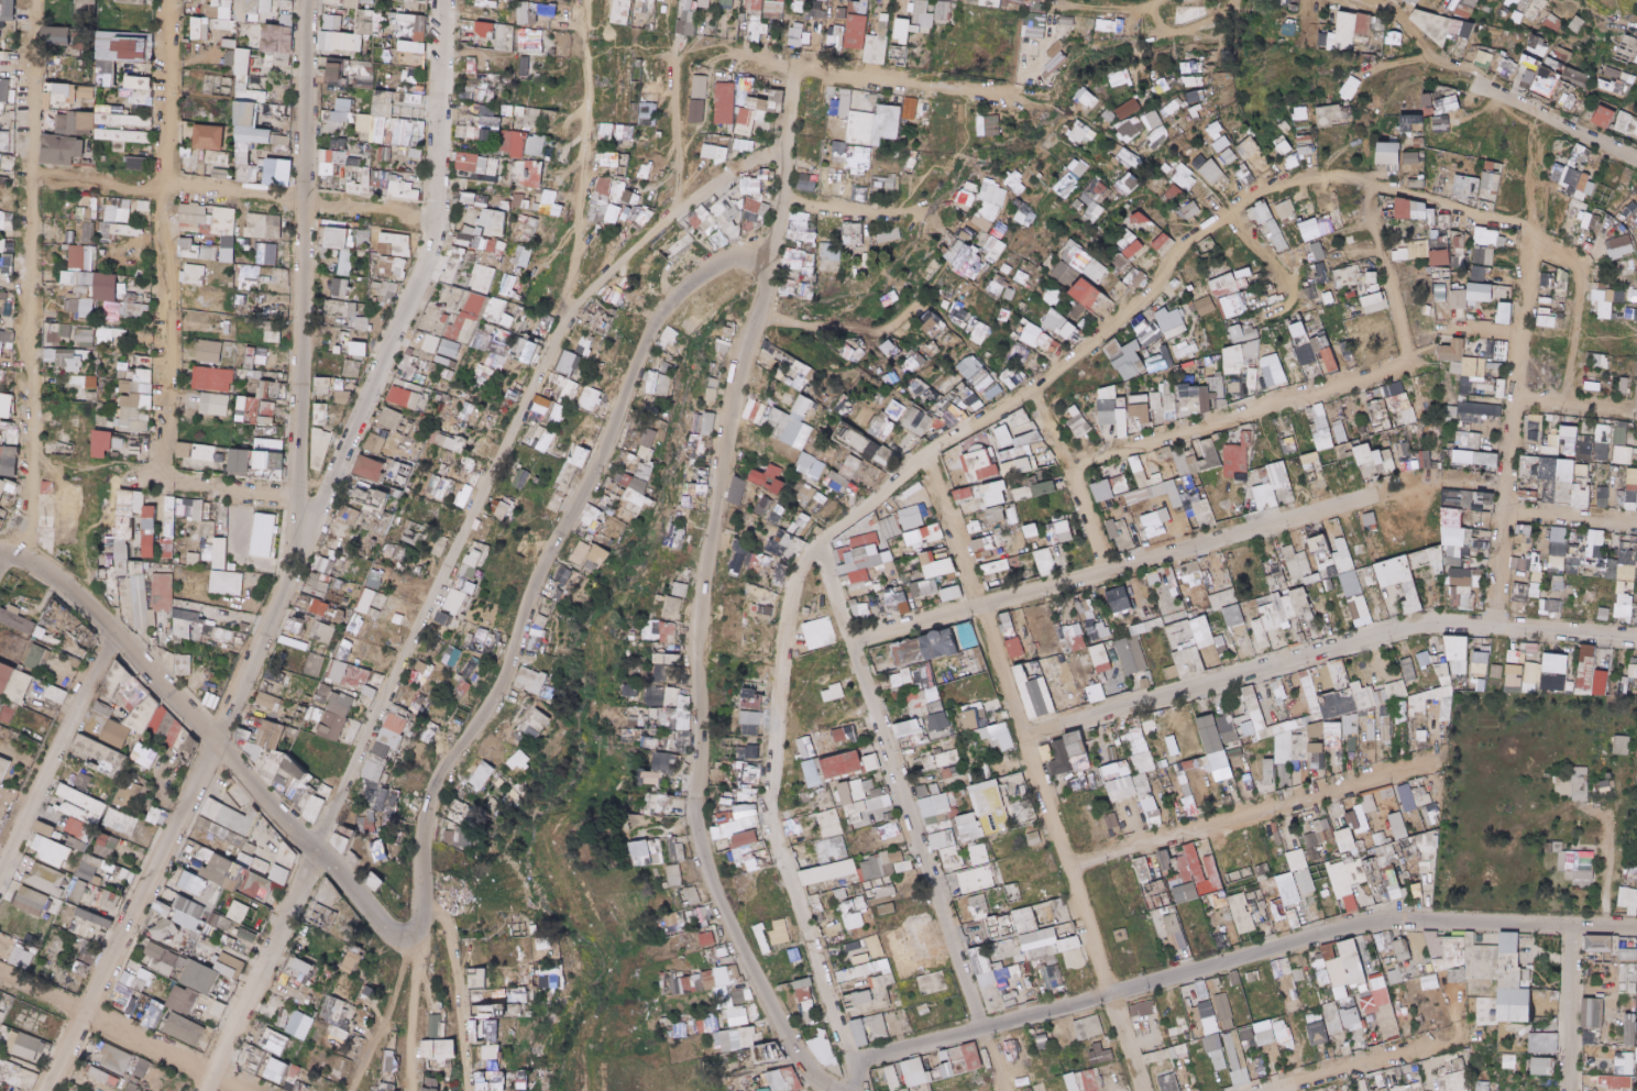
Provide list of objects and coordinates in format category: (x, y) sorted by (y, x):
building: (706, 0)
building: (825, 0)
road: (1308, 0)
building: (134, 1)
building: (370, 1)
road: (1163, 1)
building: (1414, 2)
building: (1512, 2)
building: (491, 3)
building: (726, 3)
building: (354, 4)
building: (754, 4)
building: (1470, 4)
building: (409, 5)
building: (1535, 5)
building: (861, 7)
building: (220, 9)
building: (248, 9)
building: (773, 9)
building: (7, 10)
building: (547, 10)
building: (816, 11)
building: (945, 11)
building: (622, 12)
building: (528, 14)
building: (1515, 18)
building: (332, 19)
building: (686, 20)
building: (1065, 21)
building: (1549, 21)
building: (916, 23)
building: (1430, 24)
building: (421, 25)
building: (885, 25)
building: (1034, 25)
building: (1102, 25)
building: (1575, 25)
building: (381, 26)
building: (201, 29)
building: (719, 29)
building: (492, 30)
building: (1351, 30)
building: (752, 32)
building: (857, 32)
building: (58, 36)
building: (798, 36)
building: (1395, 37)
building: (509, 38)
building: (80, 40)
building: (534, 41)
building: (343, 42)
building: (281, 45)
building: (1537, 46)
building: (417, 47)
building: (135, 49)
building: (552, 52)
building: (1626, 54)
building: (1562, 55)
building: (230, 59)
building: (1485, 59)
building: (244, 62)
building: (527, 63)
building: (1550, 64)
building: (1190, 67)
building: (1528, 68)
building: (1506, 69)
building: (108, 74)
building: (333, 74)
building: (414, 75)
building: (1575, 78)
building: (1119, 80)
building: (1193, 81)
building: (1616, 82)
building: (141, 84)
building: (746, 85)
building: (1545, 86)
building: (699, 87)
building: (1349, 88)
building: (3, 90)
building: (636, 92)
building: (1195, 97)
building: (143, 98)
building: (1088, 99)
building: (1568, 100)
building: (393, 101)
building: (1450, 101)
building: (1428, 103)
building: (1129, 109)
building: (763, 110)
building: (920, 110)
building: (696, 111)
building: (1196, 112)
building: (1299, 113)
building: (1328, 115)
building: (530, 118)
building: (892, 118)
building: (1604, 118)
building: (98, 120)
building: (548, 120)
building: (1152, 120)
building: (859, 122)
building: (1410, 122)
building: (497, 123)
building: (366, 124)
building: (1442, 124)
building: (1626, 124)
building: (252, 125)
building: (988, 126)
building: (406, 133)
building: (628, 133)
building: (1079, 133)
building: (480, 134)
building: (123, 136)
building: (210, 137)
building: (721, 141)
building: (339, 145)
building: (1282, 145)
building: (1306, 145)
building: (282, 146)
building: (531, 146)
building: (119, 147)
building: (1250, 147)
building: (63, 150)
building: (385, 154)
building: (421, 154)
building: (722, 155)
building: (1399, 155)
building: (841, 156)
building: (1228, 156)
building: (217, 157)
building: (860, 158)
building: (611, 161)
building: (1, 162)
building: (246, 164)
building: (138, 165)
building: (482, 165)
building: (278, 167)
building: (1078, 168)
building: (1208, 170)
building: (644, 172)
building: (1182, 176)
building: (380, 179)
building: (804, 183)
building: (885, 183)
building: (1014, 184)
building: (472, 185)
building: (1066, 185)
building: (407, 189)
building: (616, 192)
building: (1094, 192)
building: (964, 194)
building: (1173, 194)
building: (859, 195)
building: (482, 200)
building: (525, 202)
building: (551, 203)
building: (603, 205)
building: (986, 206)
building: (734, 207)
building: (91, 210)
building: (118, 210)
building: (634, 211)
building: (6, 222)
building: (499, 223)
building: (532, 225)
building: (263, 227)
building: (212, 228)
building: (802, 229)
building: (122, 230)
building: (89, 233)
building: (363, 236)
building: (332, 239)
building: (400, 245)
building: (194, 252)
building: (8, 253)
building: (211, 253)
building: (265, 254)
building: (81, 258)
building: (348, 263)
building: (397, 266)
road: (304, 272)
building: (249, 274)
building: (88, 278)
building: (110, 287)
building: (2, 301)

